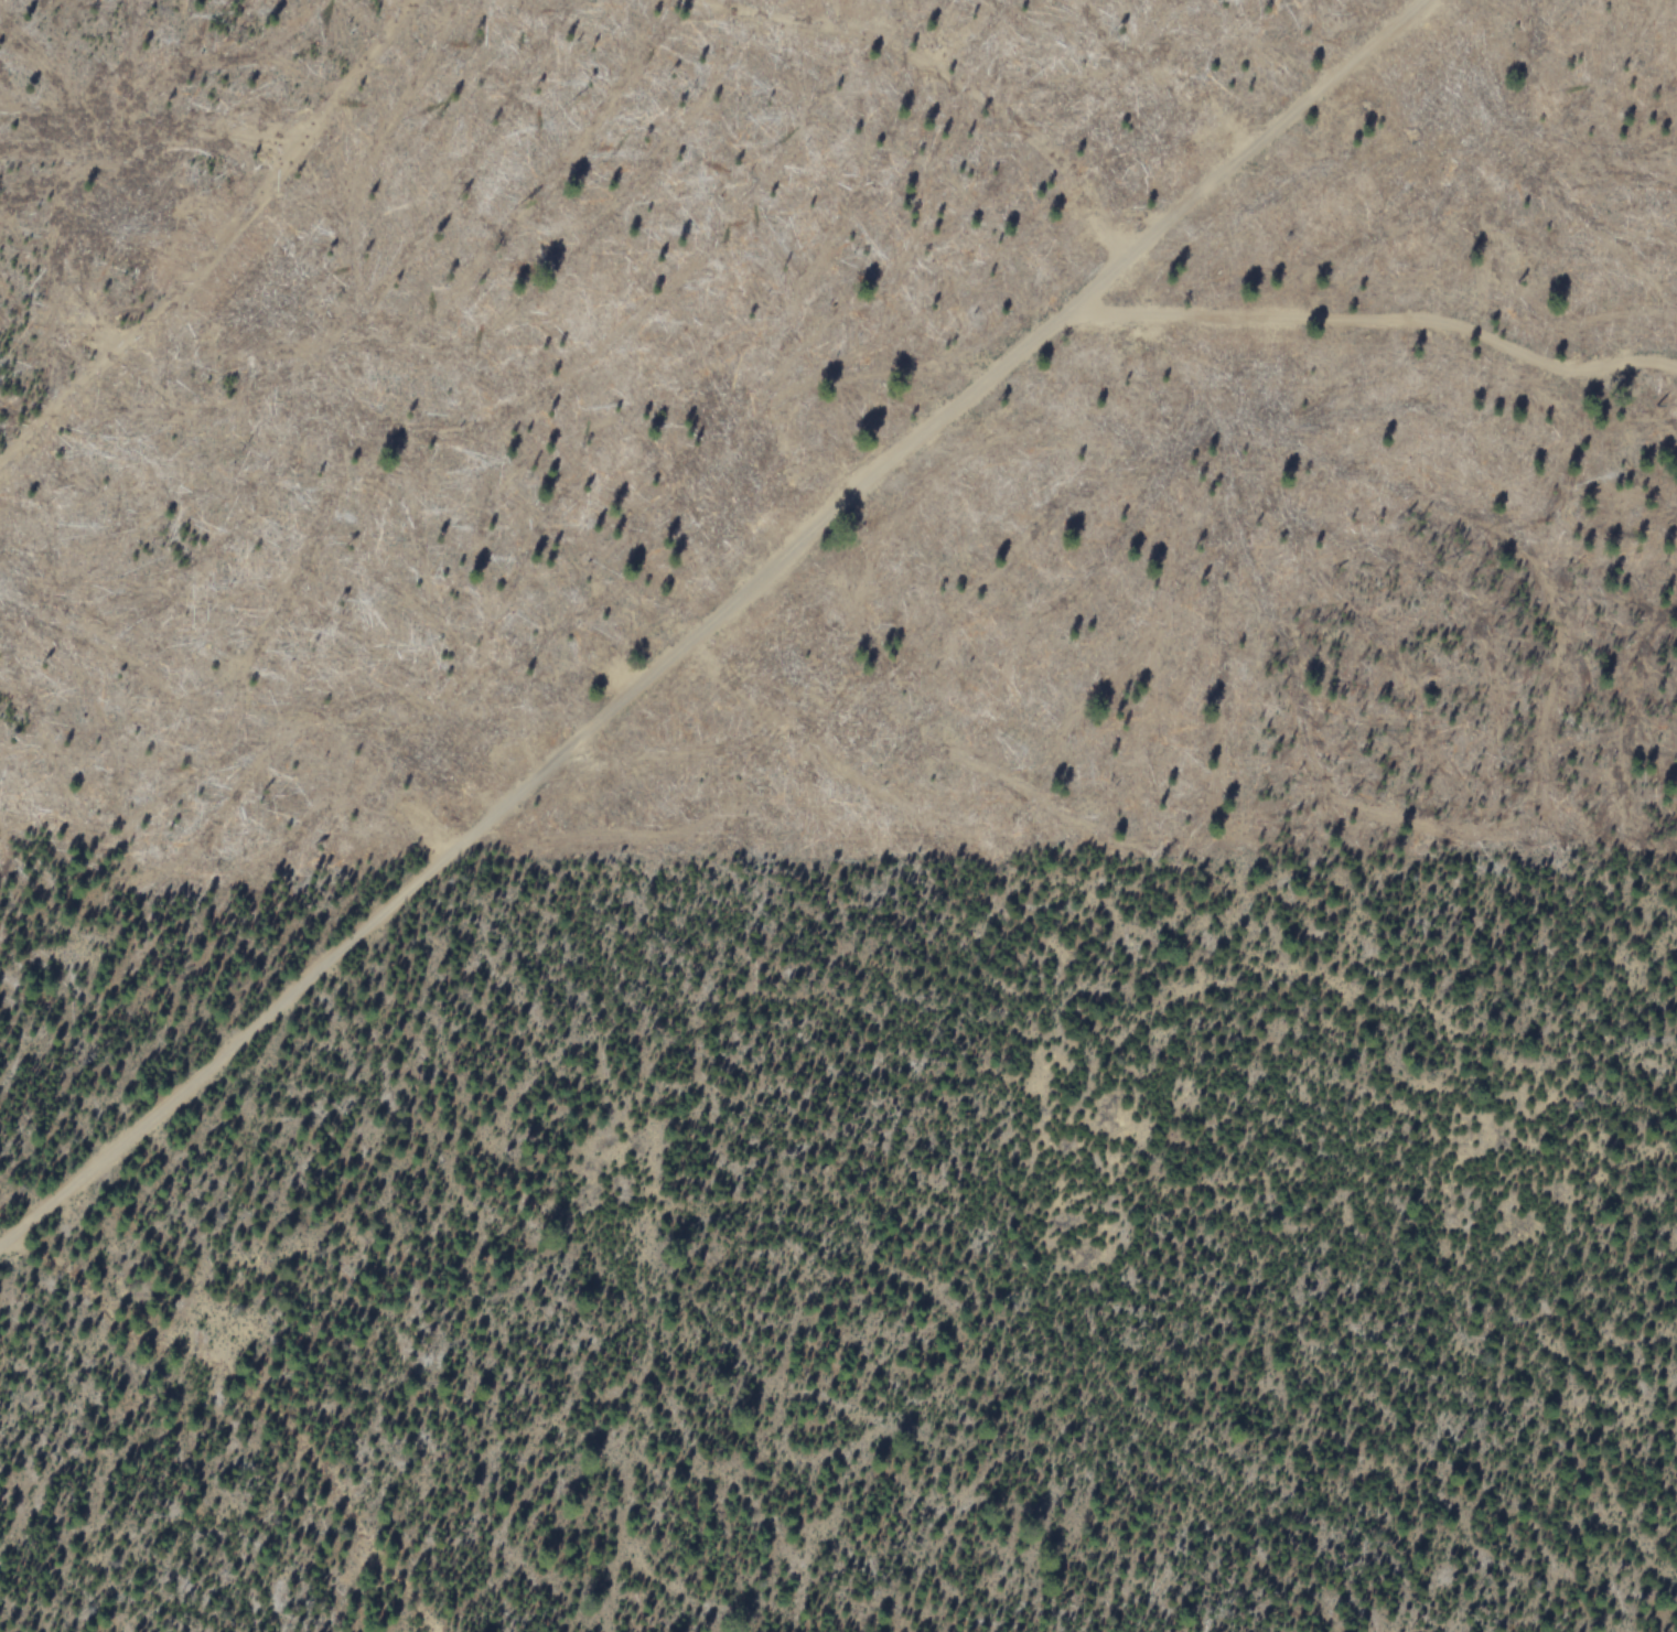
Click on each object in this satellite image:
road: (1376, 319)
road: (710, 620)

